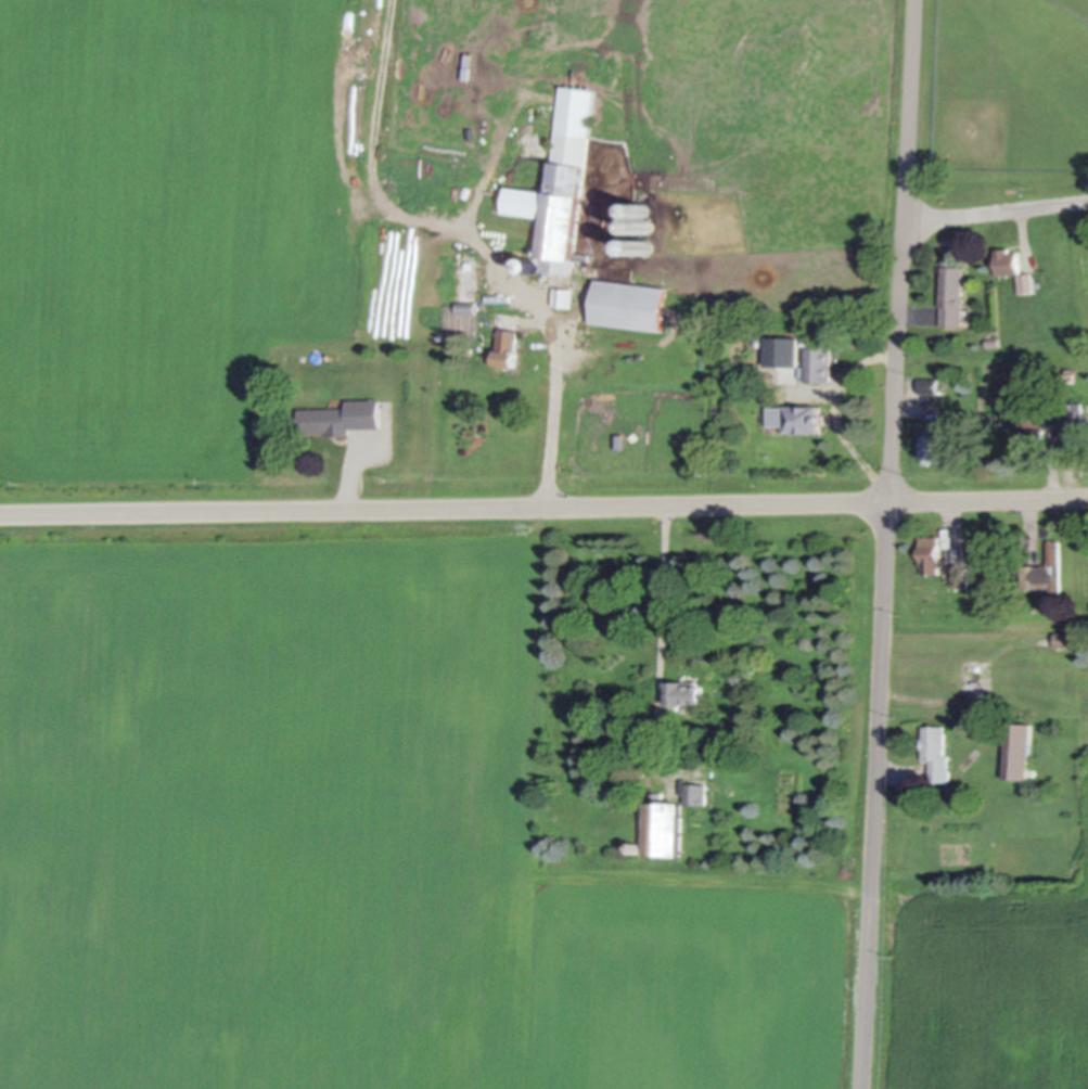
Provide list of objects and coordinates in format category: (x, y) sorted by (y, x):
building: (559, 184)
road: (996, 209)
building: (1006, 260)
building: (1024, 282)
building: (951, 294)
building: (627, 304)
building: (818, 363)
road: (558, 394)
building: (1071, 417)
building: (325, 418)
building: (799, 418)
building: (933, 445)
building: (1032, 445)
road: (343, 485)
road: (543, 504)
road: (887, 544)
building: (931, 552)
building: (1042, 569)
building: (960, 572)
road: (663, 636)
building: (975, 669)
building: (683, 691)
building: (935, 748)
building: (1017, 748)
building: (695, 791)
building: (662, 824)

